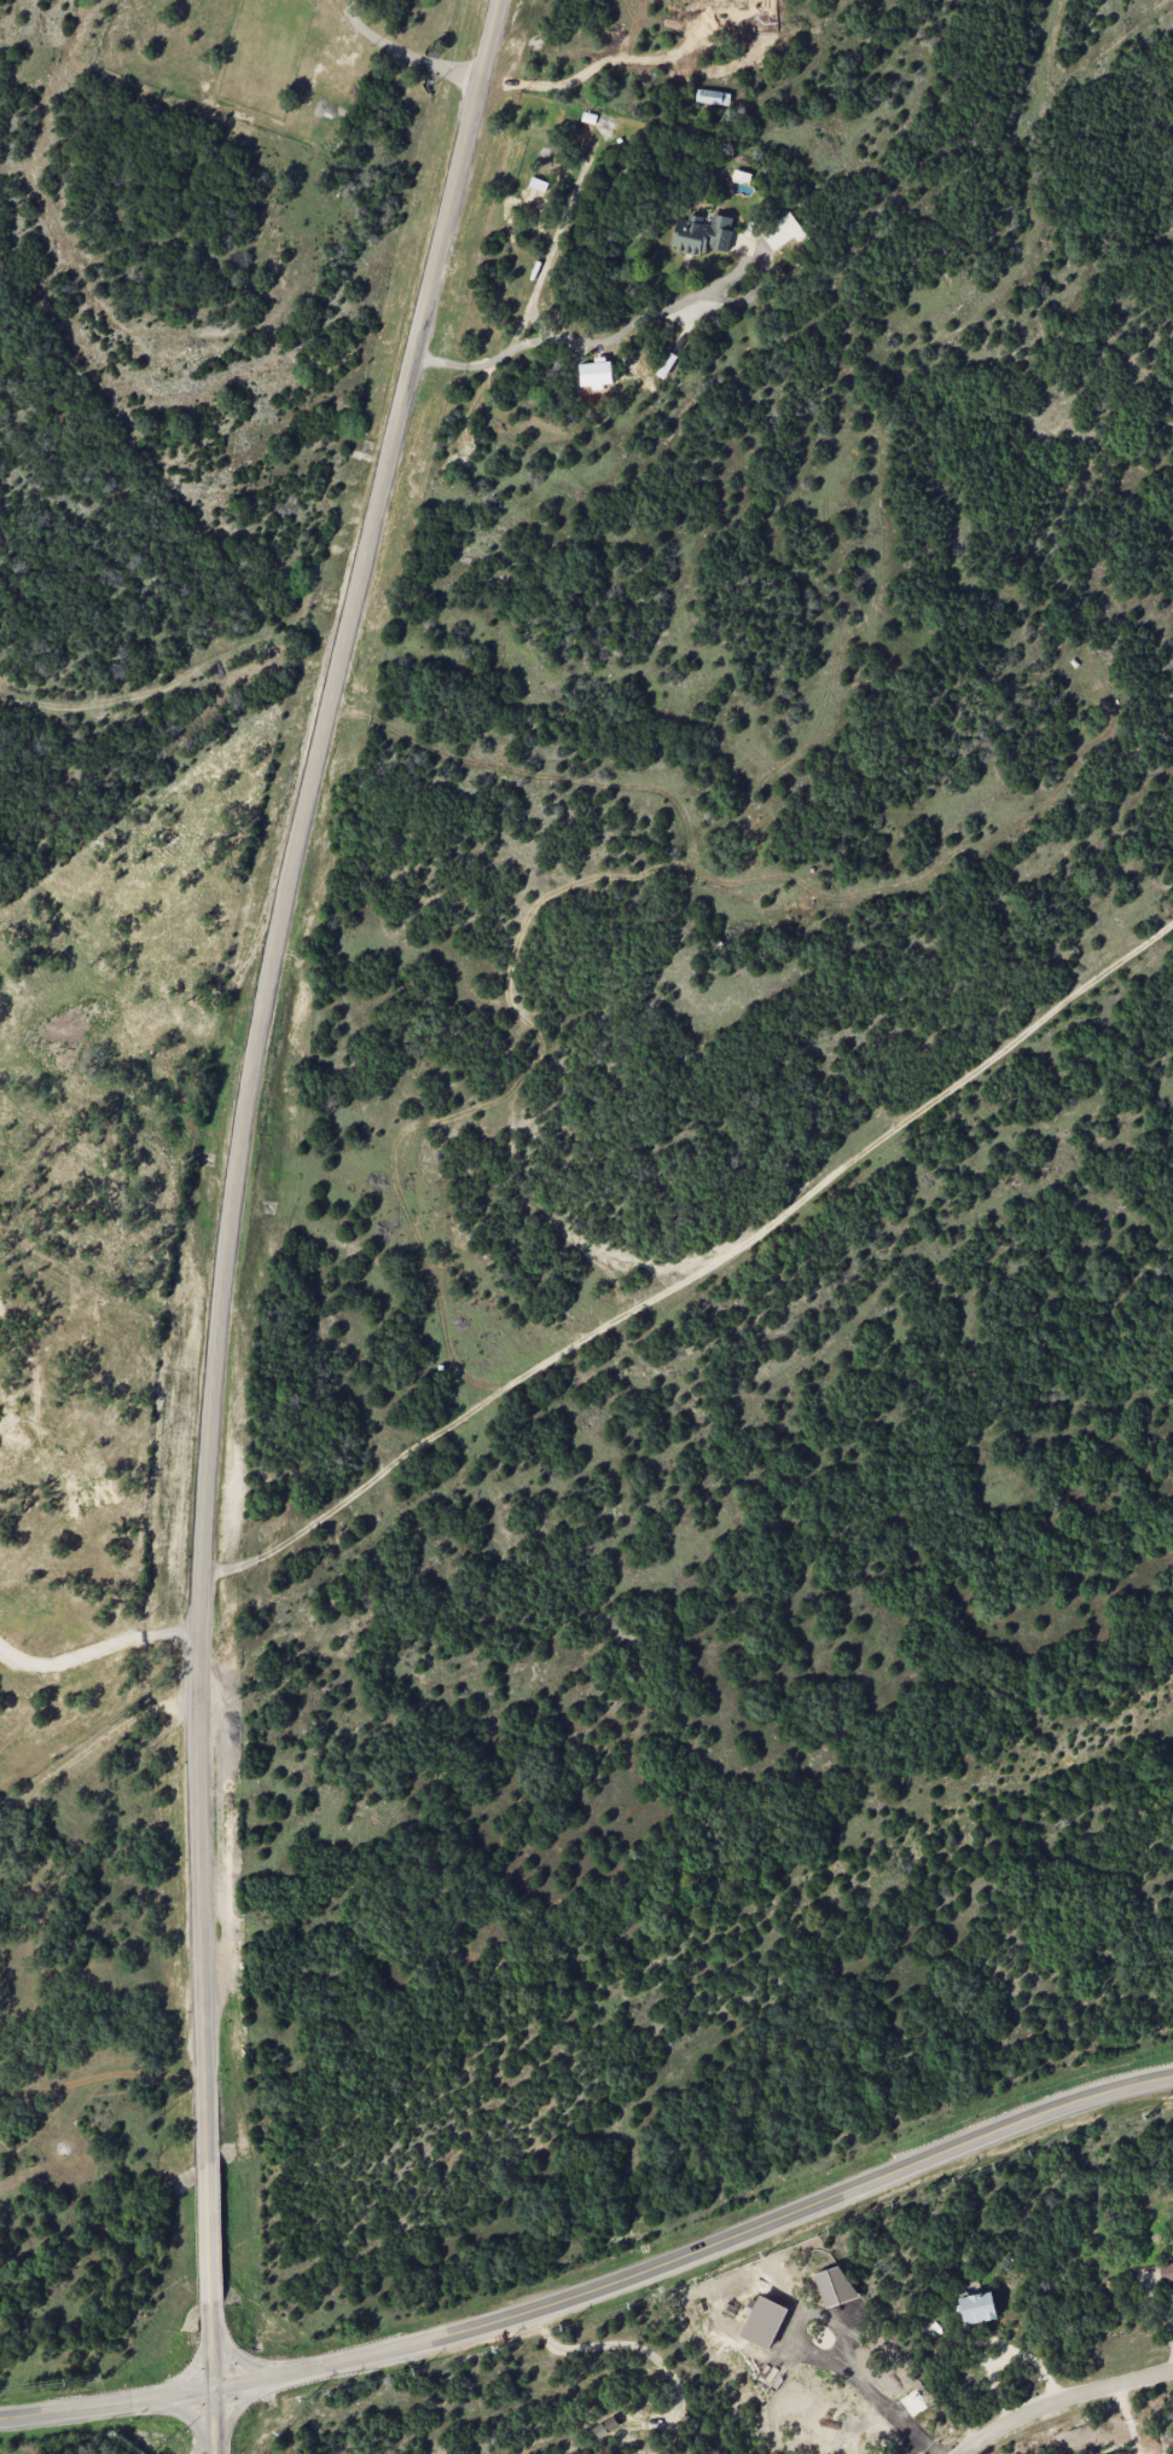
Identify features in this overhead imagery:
road: (401, 51)
road: (593, 64)
building: (713, 97)
building: (784, 231)
building: (701, 233)
road: (556, 341)
building: (666, 365)
road: (236, 1181)
road: (698, 1272)
road: (94, 1654)
road: (91, 1747)
building: (1172, 2245)
road: (698, 2251)
building: (1166, 2271)
building: (834, 2286)
building: (977, 2308)
road: (629, 2344)
road: (243, 2358)
road: (190, 2371)
road: (869, 2390)
road: (1062, 2401)
road: (240, 2403)
road: (106, 2404)
road: (186, 2417)
road: (213, 2421)
building: (605, 2426)
road: (923, 2444)

